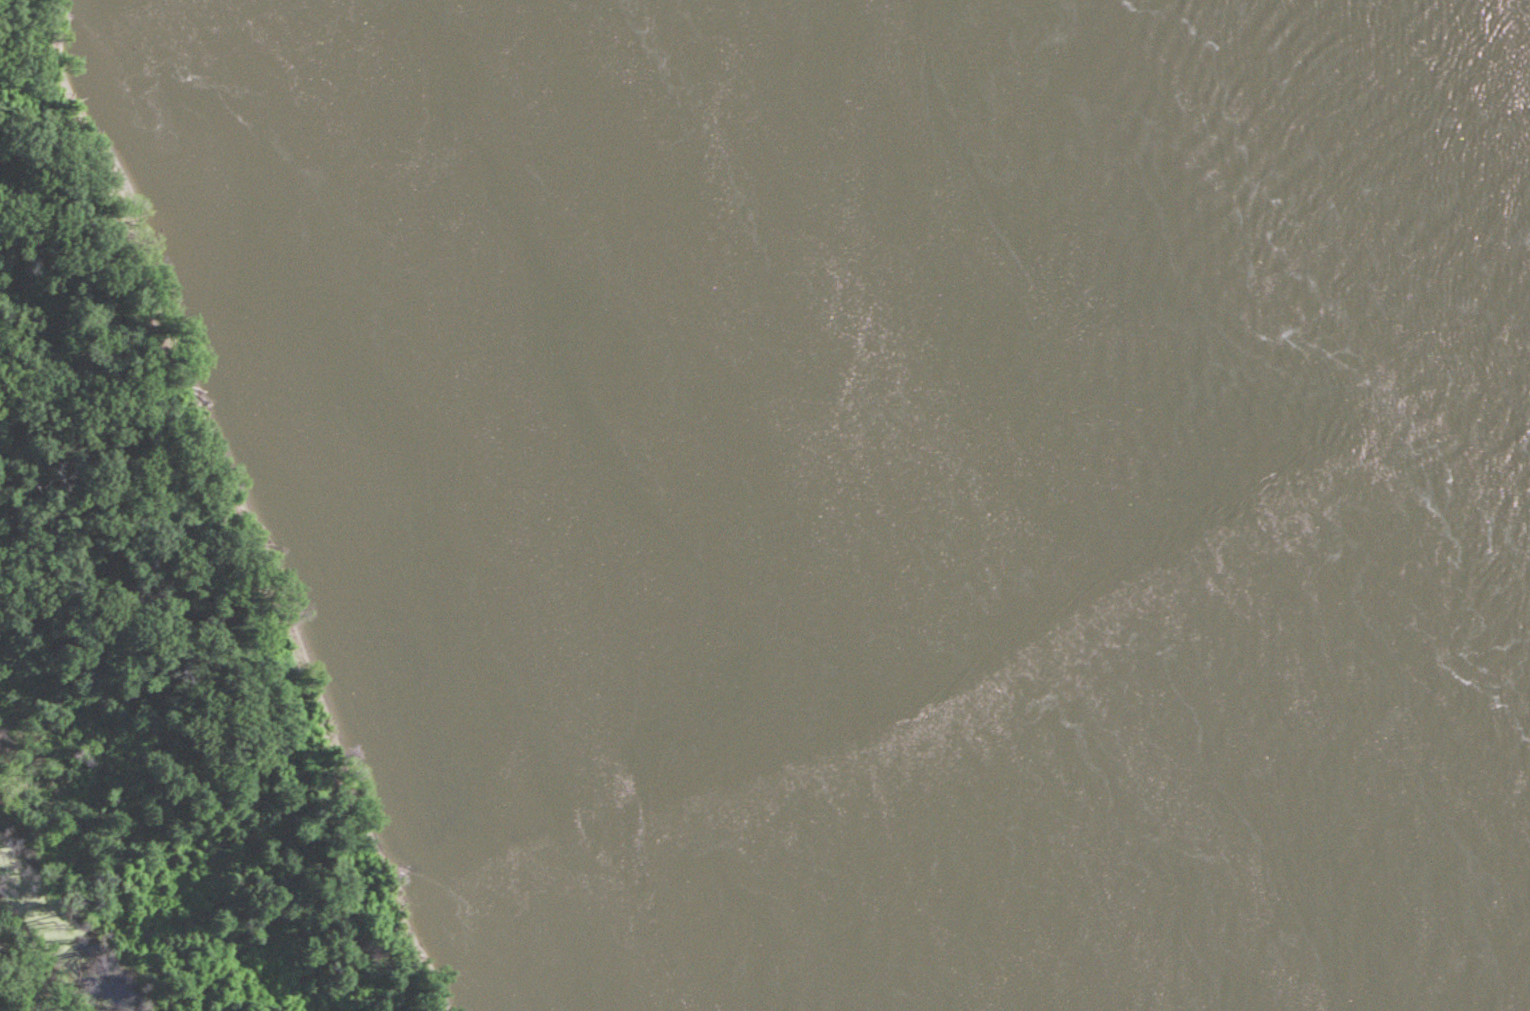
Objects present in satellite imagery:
river: (1264, 500)

